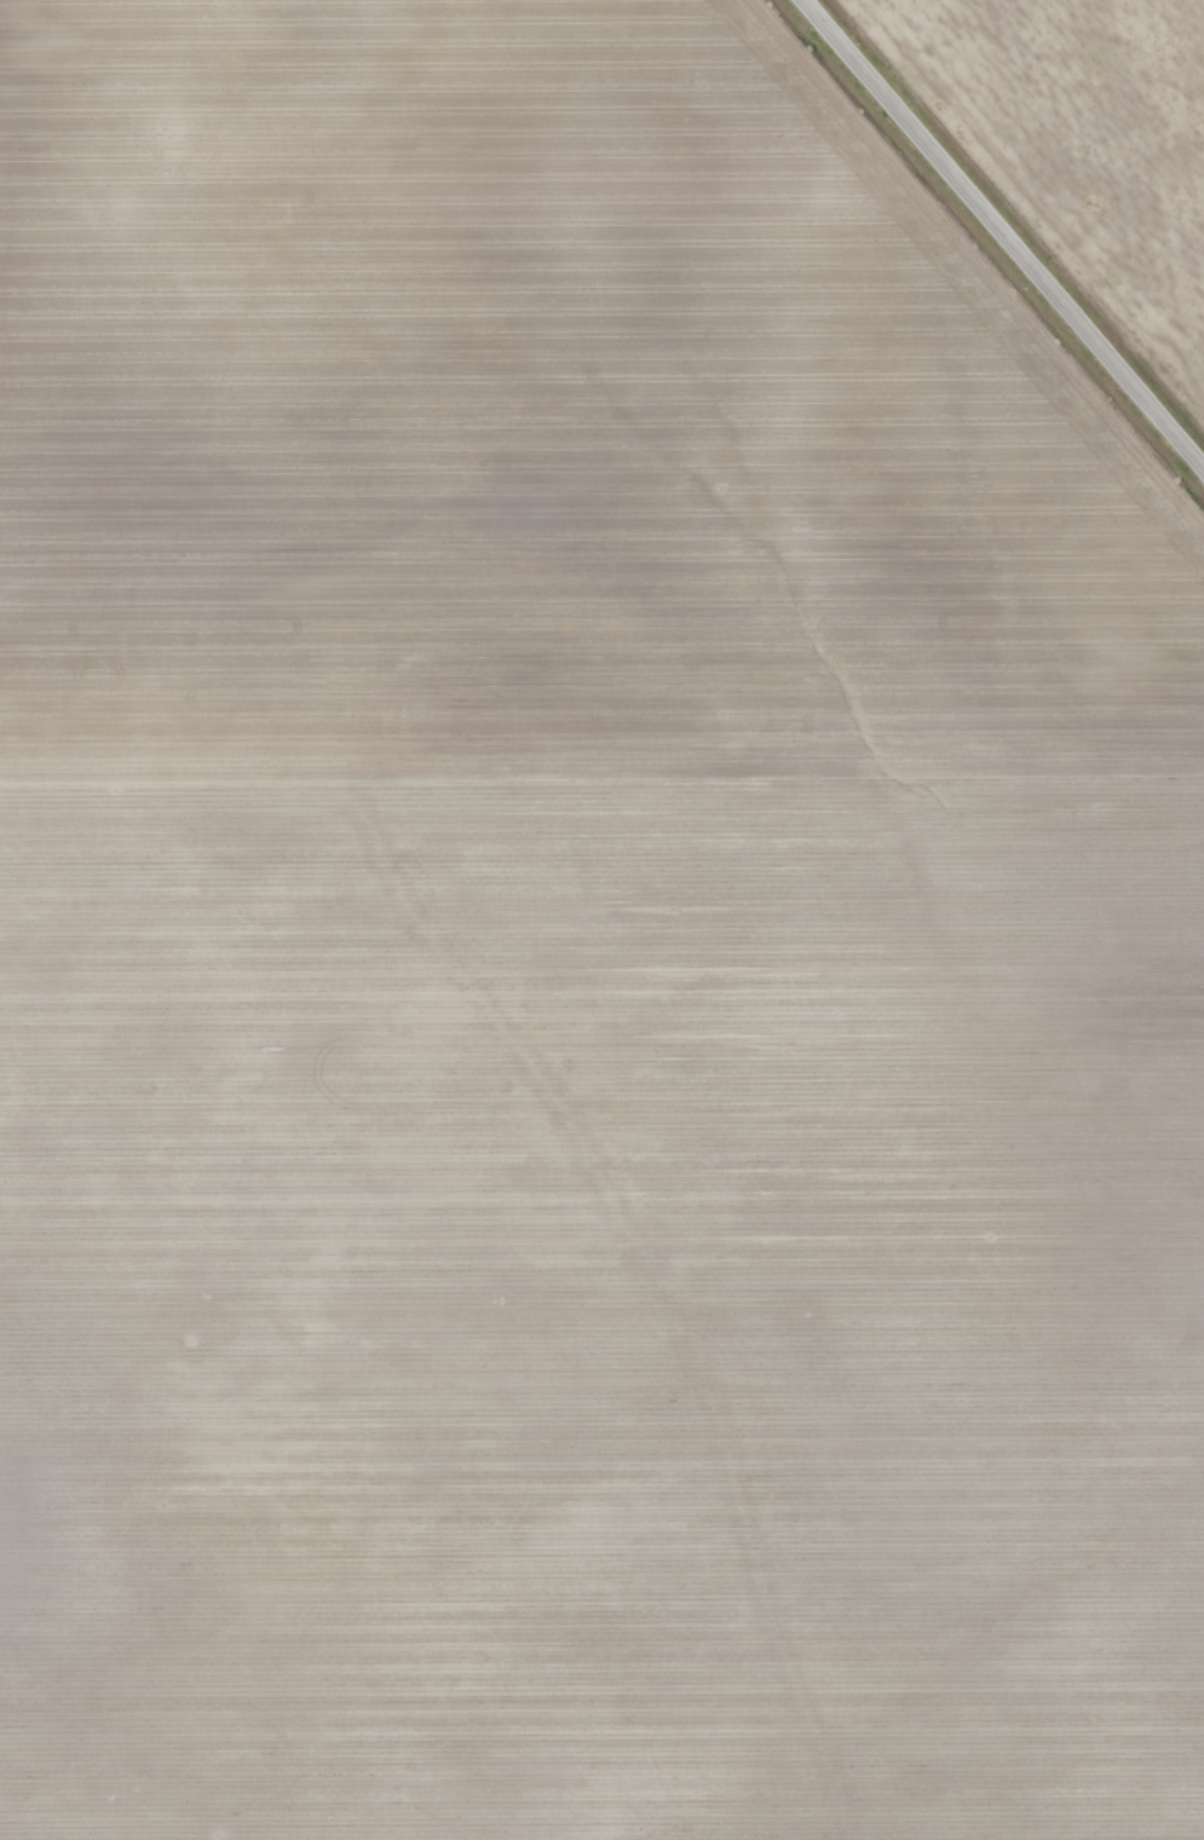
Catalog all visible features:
road: (1002, 235)

